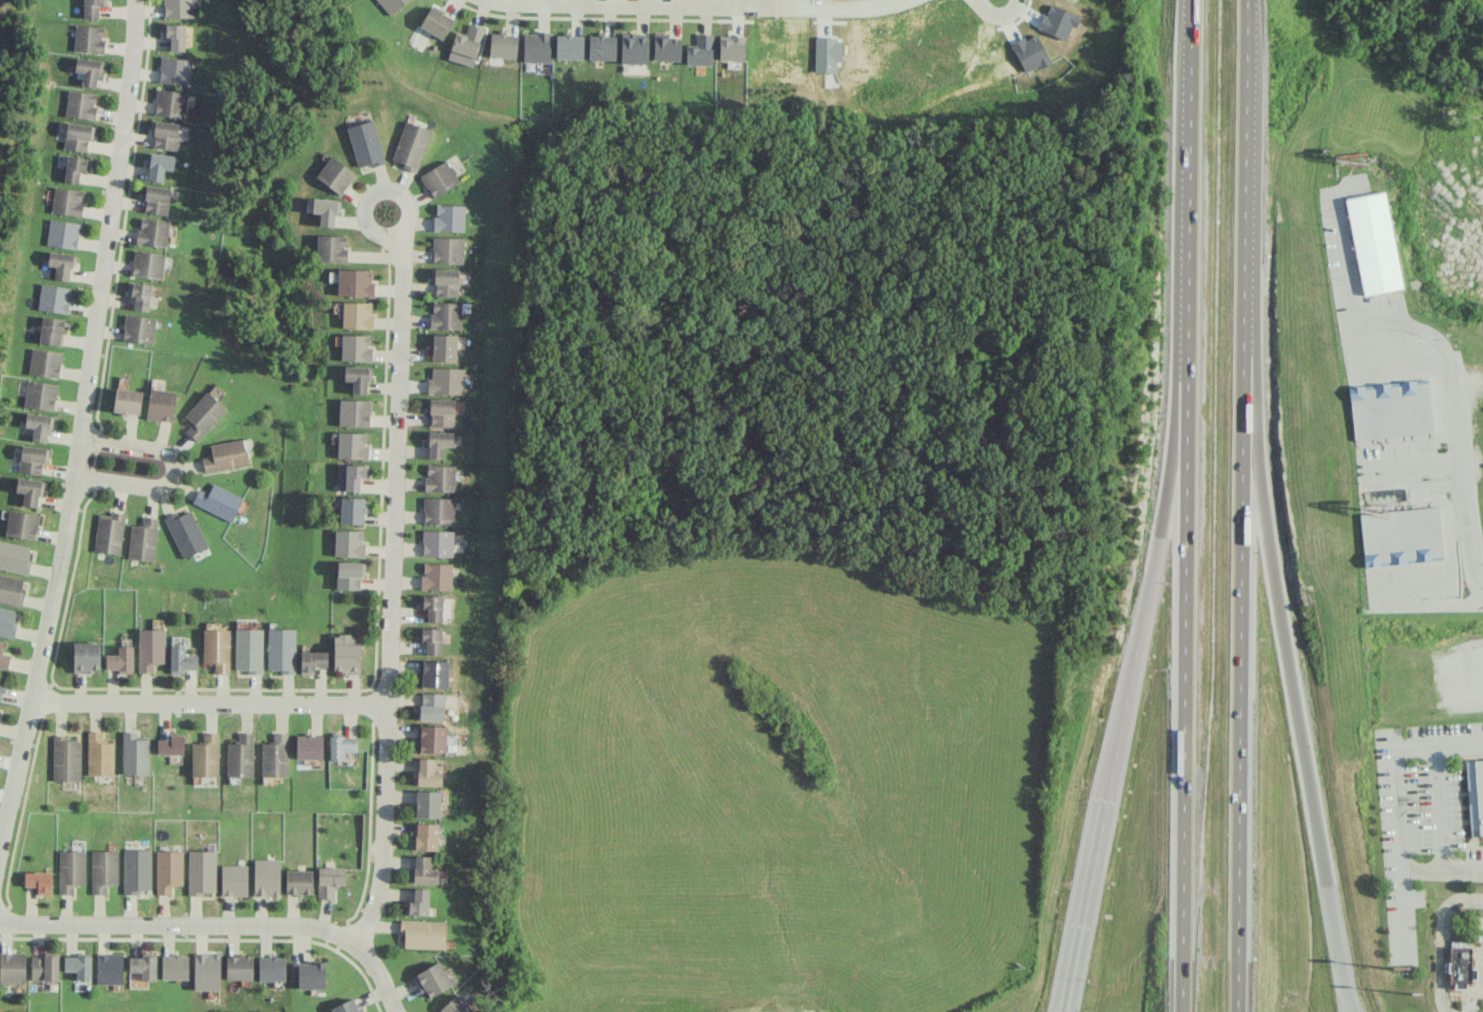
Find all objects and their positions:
road: (754, 2)
road: (719, 4)
building: (391, 5)
building: (92, 8)
building: (178, 8)
road: (999, 18)
building: (436, 22)
building: (174, 36)
building: (88, 38)
building: (468, 41)
building: (503, 45)
building: (536, 46)
building: (568, 46)
building: (601, 47)
building: (666, 47)
building: (634, 48)
building: (700, 50)
building: (731, 50)
building: (174, 70)
building: (88, 71)
building: (170, 103)
building: (80, 104)
building: (164, 135)
building: (78, 136)
building: (365, 144)
building: (410, 145)
building: (158, 165)
building: (74, 168)
building: (335, 175)
building: (439, 178)
building: (155, 199)
building: (67, 201)
building: (325, 210)
building: (449, 217)
building: (152, 232)
building: (62, 233)
building: (1373, 243)
building: (331, 248)
building: (447, 250)
building: (60, 264)
building: (147, 264)
building: (354, 282)
building: (445, 282)
building: (140, 295)
building: (54, 298)
building: (356, 314)
building: (138, 329)
building: (51, 330)
building: (355, 347)
building: (444, 347)
building: (44, 362)
building: (357, 378)
building: (446, 380)
building: (40, 395)
building: (127, 401)
building: (160, 404)
building: (1389, 409)
building: (354, 412)
building: (441, 412)
building: (203, 414)
building: (38, 426)
road: (77, 427)
building: (438, 443)
building: (351, 445)
building: (225, 455)
road: (1461, 456)
building: (32, 459)
road: (171, 468)
building: (354, 476)
building: (439, 478)
building: (29, 490)
building: (218, 501)
road: (1186, 506)
road: (1241, 506)
building: (351, 510)
building: (438, 510)
road: (393, 520)
building: (21, 524)
building: (108, 532)
building: (185, 532)
building: (1400, 536)
building: (142, 539)
building: (349, 542)
building: (437, 543)
building: (14, 557)
building: (349, 575)
building: (436, 575)
building: (11, 590)
building: (432, 607)
building: (7, 622)
building: (431, 639)
building: (177, 640)
building: (150, 648)
building: (216, 649)
building: (248, 649)
building: (281, 649)
building: (346, 654)
building: (86, 656)
building: (3, 657)
building: (120, 659)
building: (181, 660)
building: (312, 661)
road: (1288, 667)
building: (433, 673)
road: (1129, 683)
building: (1, 691)
road: (208, 703)
building: (431, 706)
building: (431, 738)
building: (170, 745)
building: (309, 746)
building: (341, 746)
building: (134, 753)
building: (99, 755)
building: (205, 755)
building: (240, 756)
building: (275, 756)
building: (65, 759)
road: (1397, 764)
building: (428, 773)
building: (1475, 795)
building: (427, 803)
road: (1441, 807)
building: (426, 836)
building: (70, 870)
building: (103, 870)
building: (136, 870)
building: (168, 870)
building: (424, 870)
road: (1443, 870)
building: (201, 872)
building: (266, 877)
building: (234, 880)
building: (38, 881)
building: (298, 881)
building: (329, 881)
building: (418, 903)
road: (1403, 911)
road: (219, 925)
building: (422, 934)
road: (1443, 942)
building: (79, 964)
building: (143, 966)
building: (12, 967)
building: (174, 967)
building: (238, 967)
building: (1460, 967)
building: (44, 968)
building: (109, 968)
building: (271, 969)
building: (206, 971)
building: (308, 975)
building: (434, 979)
building: (455, 1005)
building: (346, 1006)
road: (1064, 1006)

